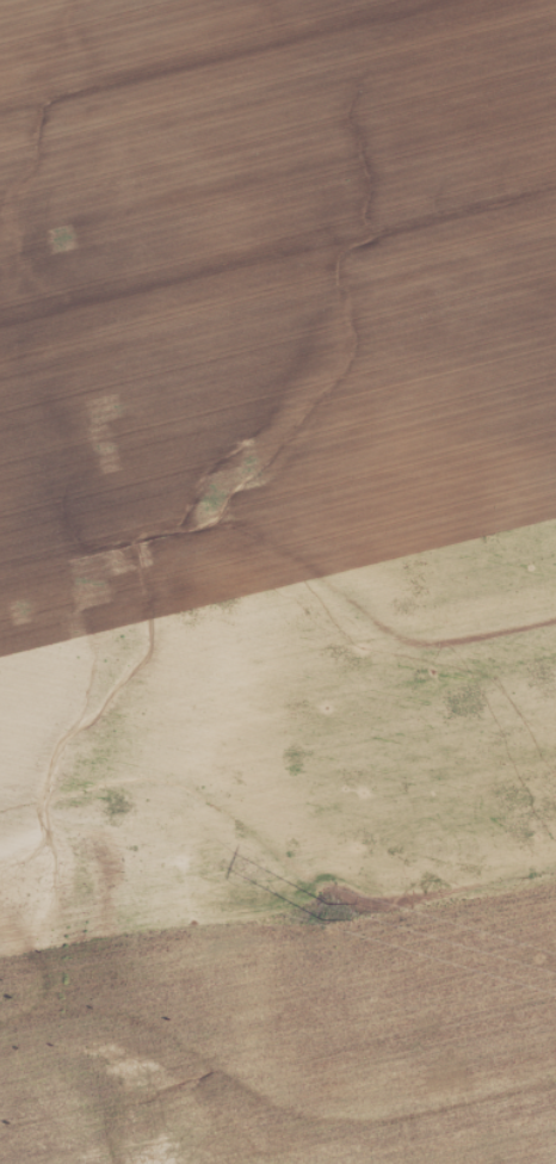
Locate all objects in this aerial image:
power tower: (314, 912)

